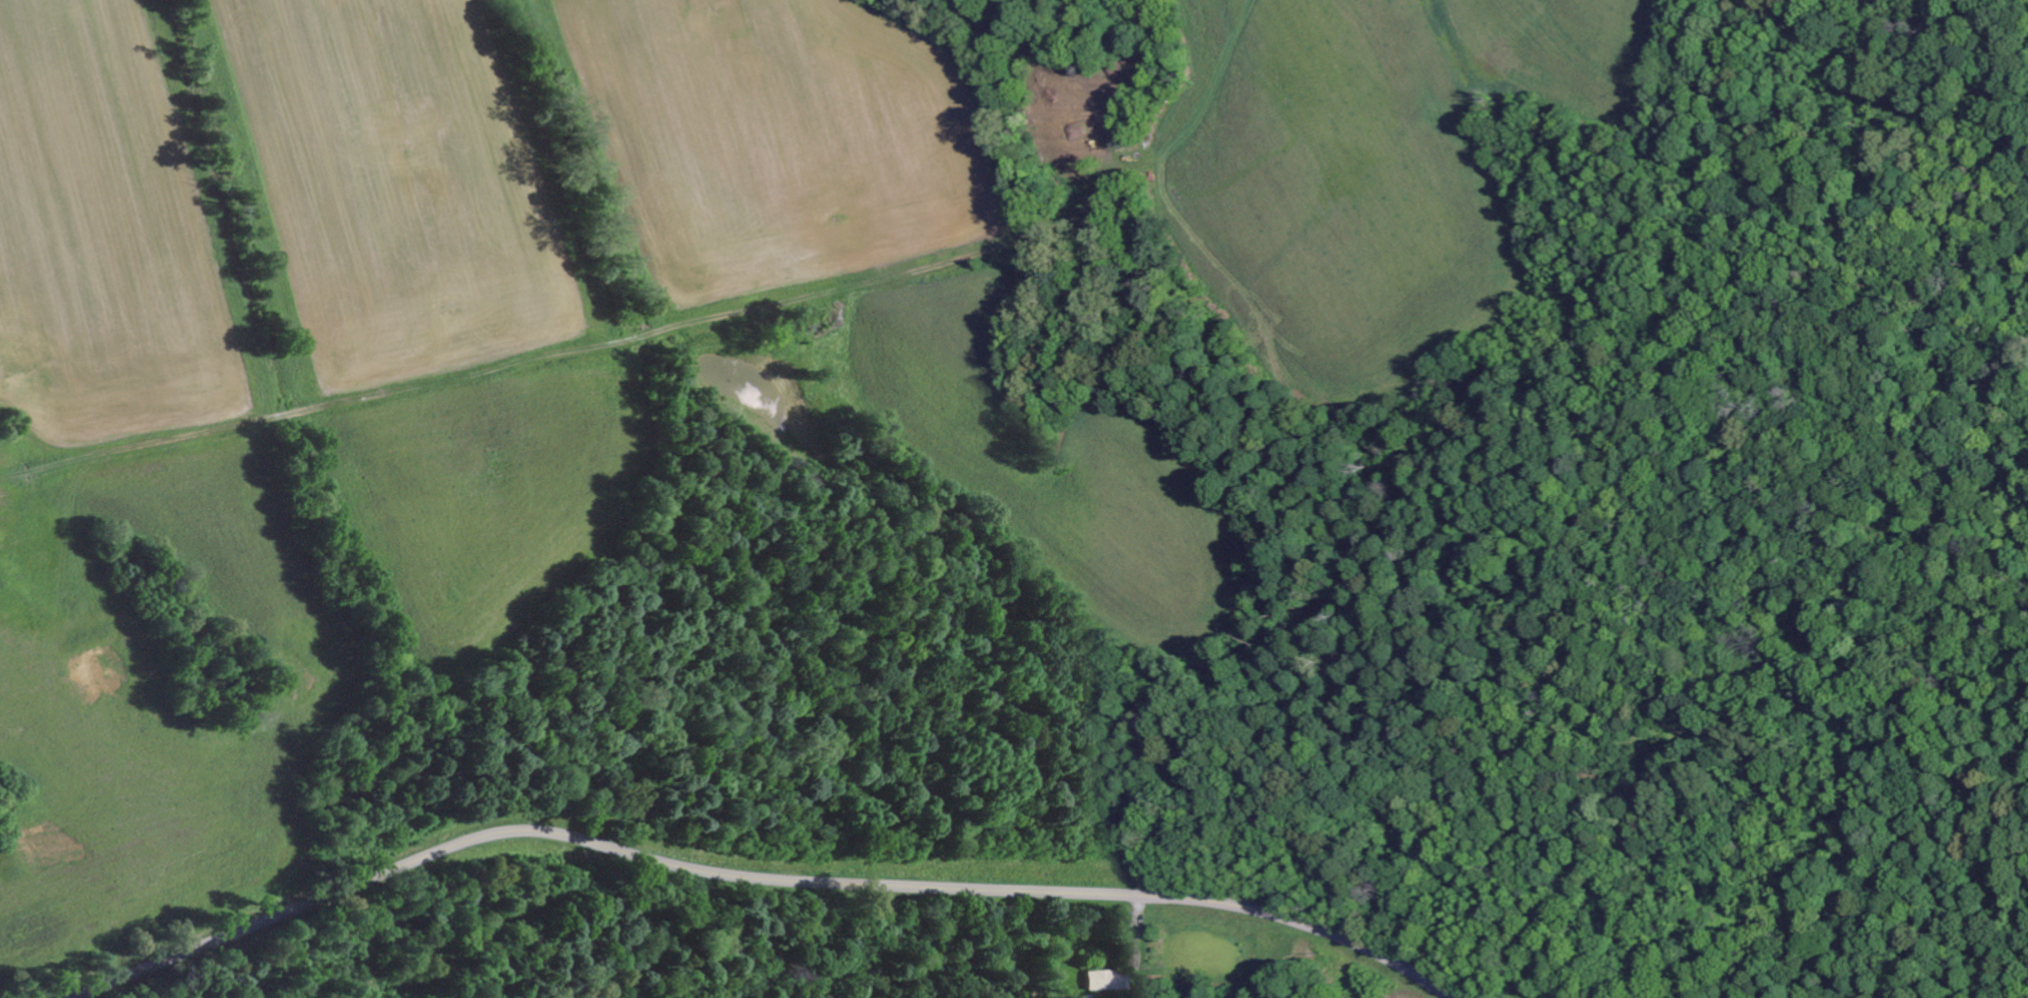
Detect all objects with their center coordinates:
road: (738, 409)
road: (754, 880)
building: (1101, 980)

